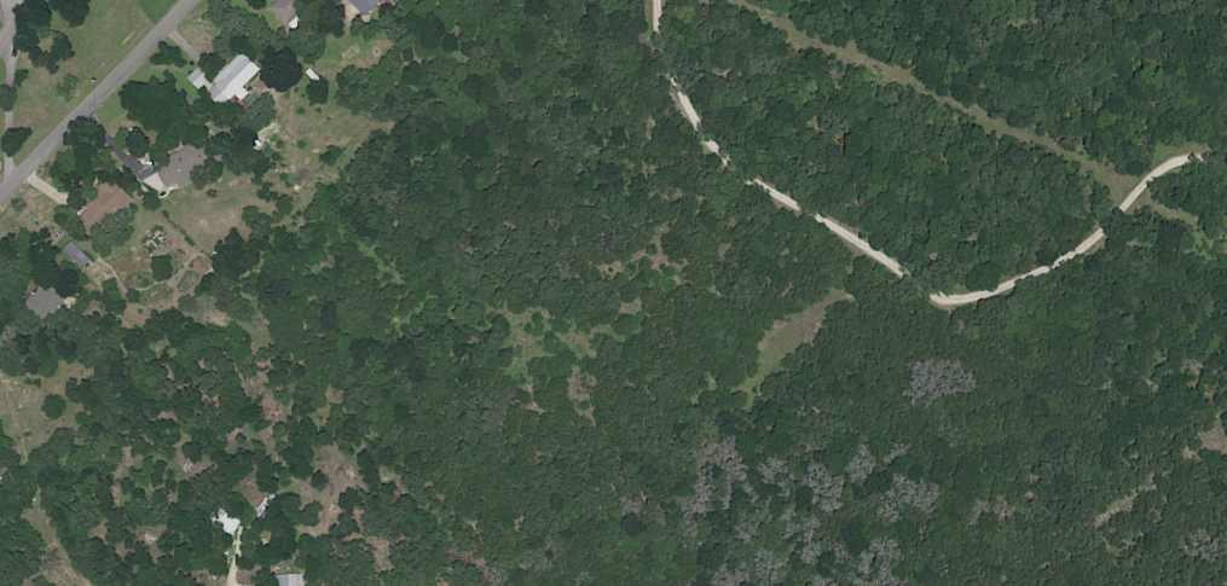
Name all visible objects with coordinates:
building: (285, 8)
road: (4, 51)
building: (197, 79)
building: (231, 80)
road: (94, 94)
road: (6, 97)
building: (176, 168)
building: (106, 203)
building: (75, 254)
road: (899, 271)
building: (45, 300)
building: (287, 580)

